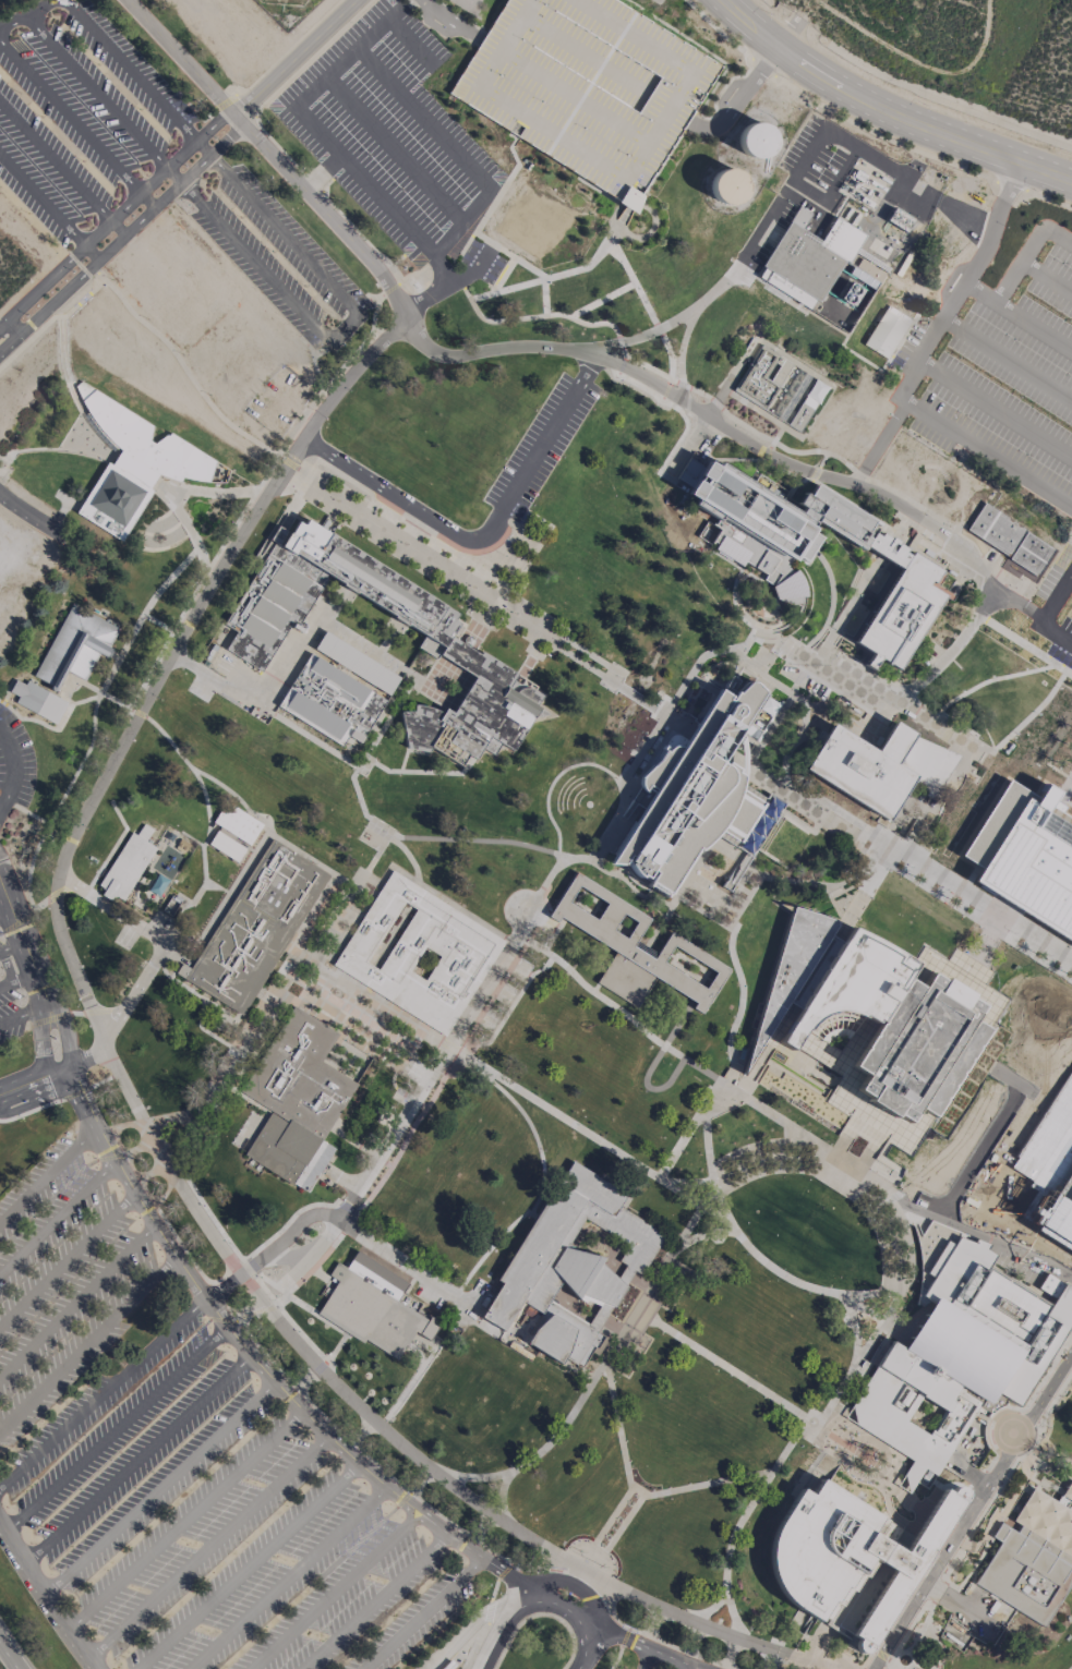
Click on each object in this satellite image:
road: (406, 2)
solar farm: (287, 10)
road: (28, 14)
road: (453, 21)
road: (764, 21)
road: (740, 29)
road: (410, 41)
road: (347, 56)
road: (298, 57)
road: (916, 57)
road: (184, 58)
road: (751, 85)
building: (587, 88)
parking lot: (587, 88)
parking lot: (82, 118)
road: (422, 118)
road: (922, 123)
road: (76, 124)
road: (865, 129)
parking lot: (392, 135)
building: (755, 140)
road: (395, 148)
road: (61, 166)
road: (322, 171)
road: (362, 181)
building: (726, 185)
road: (494, 201)
road: (49, 205)
road: (328, 211)
road: (115, 214)
building: (900, 219)
road: (993, 222)
road: (454, 231)
road: (121, 234)
road: (1058, 237)
road: (755, 240)
road: (508, 254)
road: (1019, 265)
building: (820, 270)
power plant: (820, 270)
building: (866, 273)
road: (504, 274)
road: (551, 276)
road: (1047, 277)
road: (449, 279)
road: (453, 286)
road: (979, 292)
road: (544, 297)
road: (601, 299)
road: (953, 300)
road: (652, 318)
road: (14, 326)
road: (1034, 326)
road: (339, 331)
building: (887, 331)
road: (645, 334)
road: (929, 338)
road: (680, 351)
road: (1007, 359)
road: (651, 368)
parking lot: (1001, 376)
building: (782, 388)
road: (995, 409)
road: (889, 423)
road: (733, 432)
road: (547, 434)
parking lot: (537, 452)
road: (987, 453)
building: (134, 464)
road: (255, 491)
road: (171, 492)
road: (403, 501)
road: (26, 516)
building: (769, 522)
building: (996, 529)
building: (1031, 554)
road: (1055, 594)
building: (279, 595)
road: (485, 596)
road: (736, 600)
parking lot: (1055, 602)
building: (899, 603)
road: (830, 606)
road: (1053, 634)
road: (1024, 645)
building: (75, 646)
road: (950, 651)
road: (166, 668)
road: (847, 679)
road: (985, 679)
building: (338, 690)
building: (38, 700)
road: (96, 701)
building: (1063, 701)
building: (473, 711)
road: (265, 712)
building: (1058, 715)
road: (1024, 719)
road: (954, 725)
road: (654, 728)
road: (716, 746)
road: (179, 752)
road: (369, 759)
building: (879, 767)
road: (12, 773)
parking lot: (14, 776)
road: (554, 779)
building: (694, 794)
road: (234, 796)
road: (936, 800)
road: (812, 809)
building: (237, 822)
road: (275, 837)
road: (475, 838)
road: (864, 842)
building: (227, 846)
building: (1028, 859)
building: (125, 867)
road: (904, 867)
road: (364, 871)
road: (870, 879)
road: (5, 910)
road: (113, 910)
road: (659, 926)
building: (255, 927)
building: (616, 939)
road: (12, 946)
building: (418, 953)
road: (518, 953)
road: (977, 959)
building: (791, 965)
road: (736, 966)
road: (7, 969)
road: (36, 972)
building: (809, 978)
road: (25, 980)
road: (579, 981)
road: (7, 988)
road: (133, 994)
road: (273, 999)
parking lot: (11, 1001)
road: (26, 1015)
building: (886, 1027)
road: (648, 1036)
road: (39, 1044)
road: (86, 1054)
road: (672, 1075)
road: (34, 1079)
road: (743, 1086)
road: (1026, 1088)
building: (297, 1100)
road: (1068, 1103)
road: (40, 1106)
road: (870, 1113)
road: (1068, 1113)
road: (775, 1116)
road: (174, 1117)
road: (880, 1118)
parking lot: (1062, 1135)
road: (593, 1137)
road: (841, 1151)
road: (857, 1162)
road: (889, 1165)
road: (48, 1173)
road: (687, 1181)
road: (540, 1189)
road: (533, 1214)
road: (931, 1214)
road: (57, 1216)
road: (284, 1224)
road: (704, 1233)
road: (272, 1248)
road: (749, 1248)
road: (67, 1256)
road: (310, 1256)
road: (1031, 1256)
road: (287, 1257)
road: (396, 1258)
road: (245, 1266)
building: (559, 1266)
road: (320, 1273)
road: (76, 1301)
road: (297, 1302)
road: (278, 1303)
building: (371, 1306)
road: (640, 1307)
road: (855, 1327)
road: (87, 1341)
road: (334, 1352)
building: (959, 1356)
road: (258, 1364)
road: (410, 1382)
road: (103, 1390)
road: (363, 1401)
road: (116, 1428)
road: (797, 1432)
road: (831, 1435)
road: (407, 1448)
road: (137, 1459)
parking lot: (179, 1466)
road: (499, 1476)
road: (159, 1488)
road: (637, 1490)
road: (972, 1510)
road: (407, 1515)
road: (185, 1519)
road: (450, 1520)
road: (209, 1546)
road: (595, 1551)
building: (848, 1553)
building: (1033, 1557)
road: (590, 1560)
road: (245, 1565)
road: (504, 1571)
road: (286, 1577)
road: (575, 1584)
road: (336, 1588)
road: (494, 1588)
road: (46, 1595)
road: (725, 1597)
road: (373, 1600)
road: (489, 1610)
road: (573, 1611)
road: (422, 1613)
road: (467, 1629)
road: (496, 1635)
road: (624, 1636)
road: (654, 1638)
road: (475, 1645)
road: (643, 1646)
road: (12, 1650)
road: (615, 1658)
road: (646, 1658)
road: (685, 1667)

